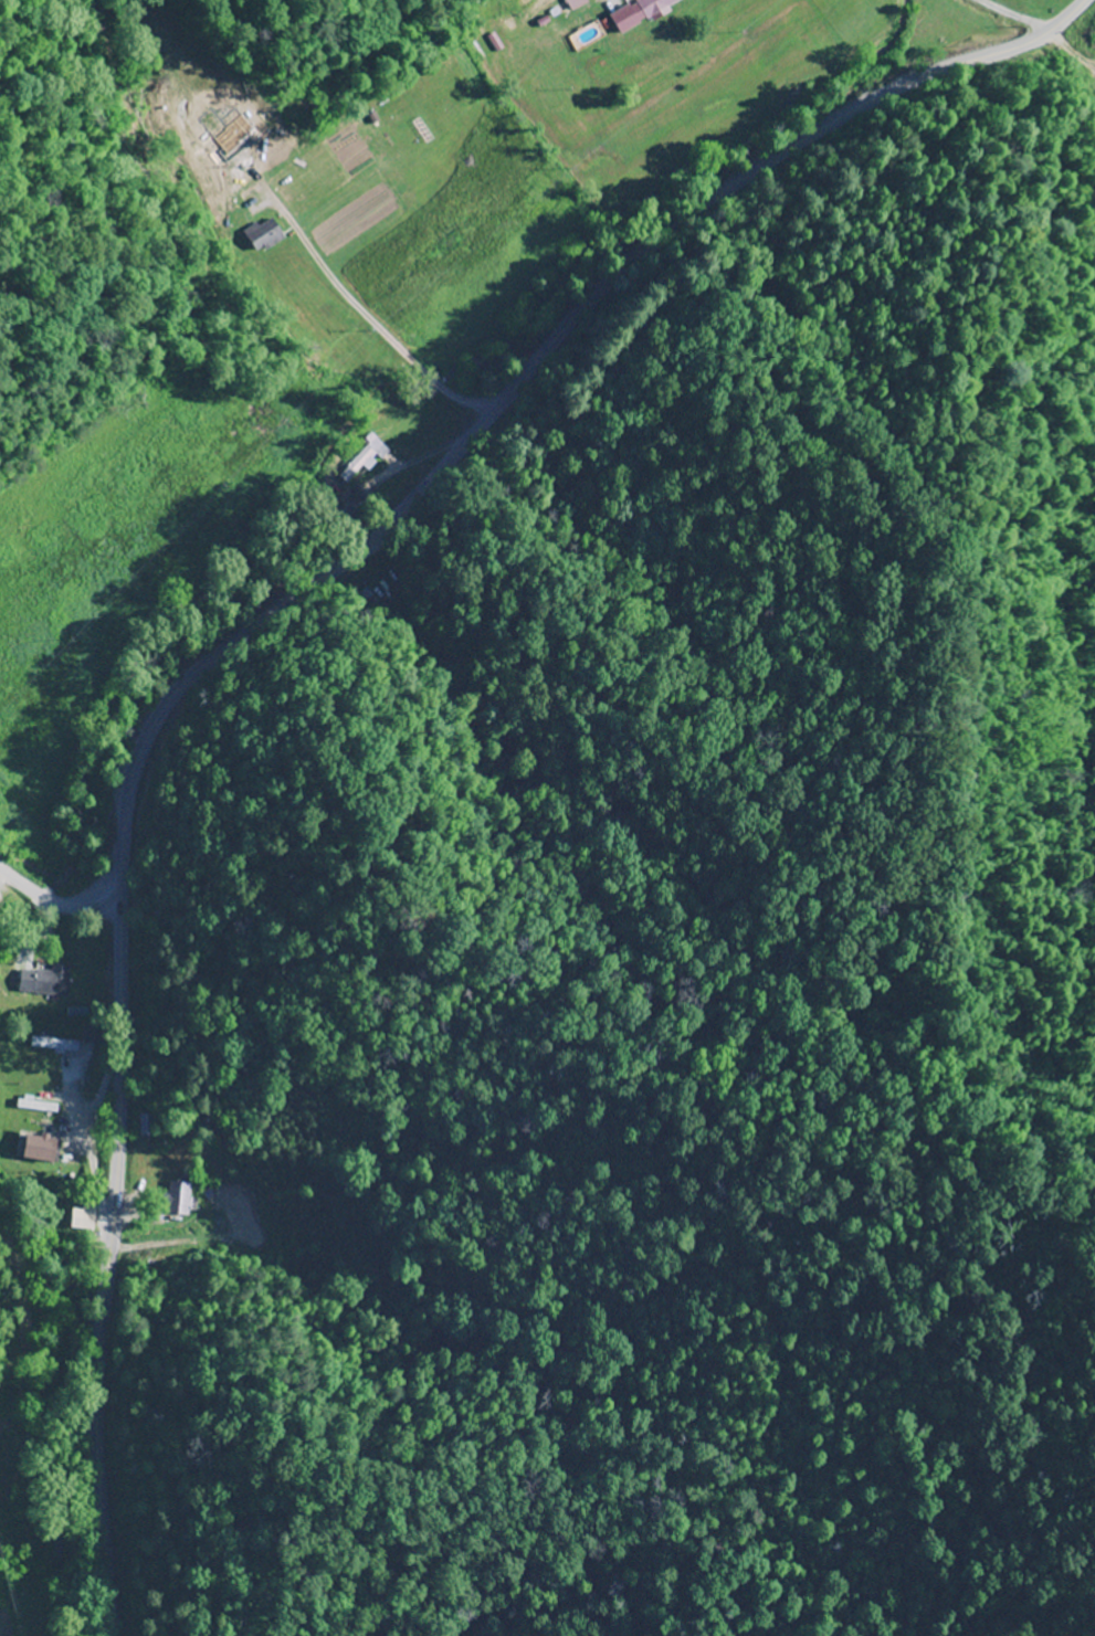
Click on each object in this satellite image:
building: (578, 3)
building: (656, 7)
road: (737, 81)
building: (265, 235)
road: (408, 355)
building: (359, 460)
road: (256, 626)
road: (57, 901)
building: (44, 980)
road: (80, 993)
road: (71, 995)
road: (88, 1000)
building: (54, 1045)
building: (36, 1107)
building: (40, 1148)
building: (177, 1200)
building: (241, 1213)
building: (81, 1218)

